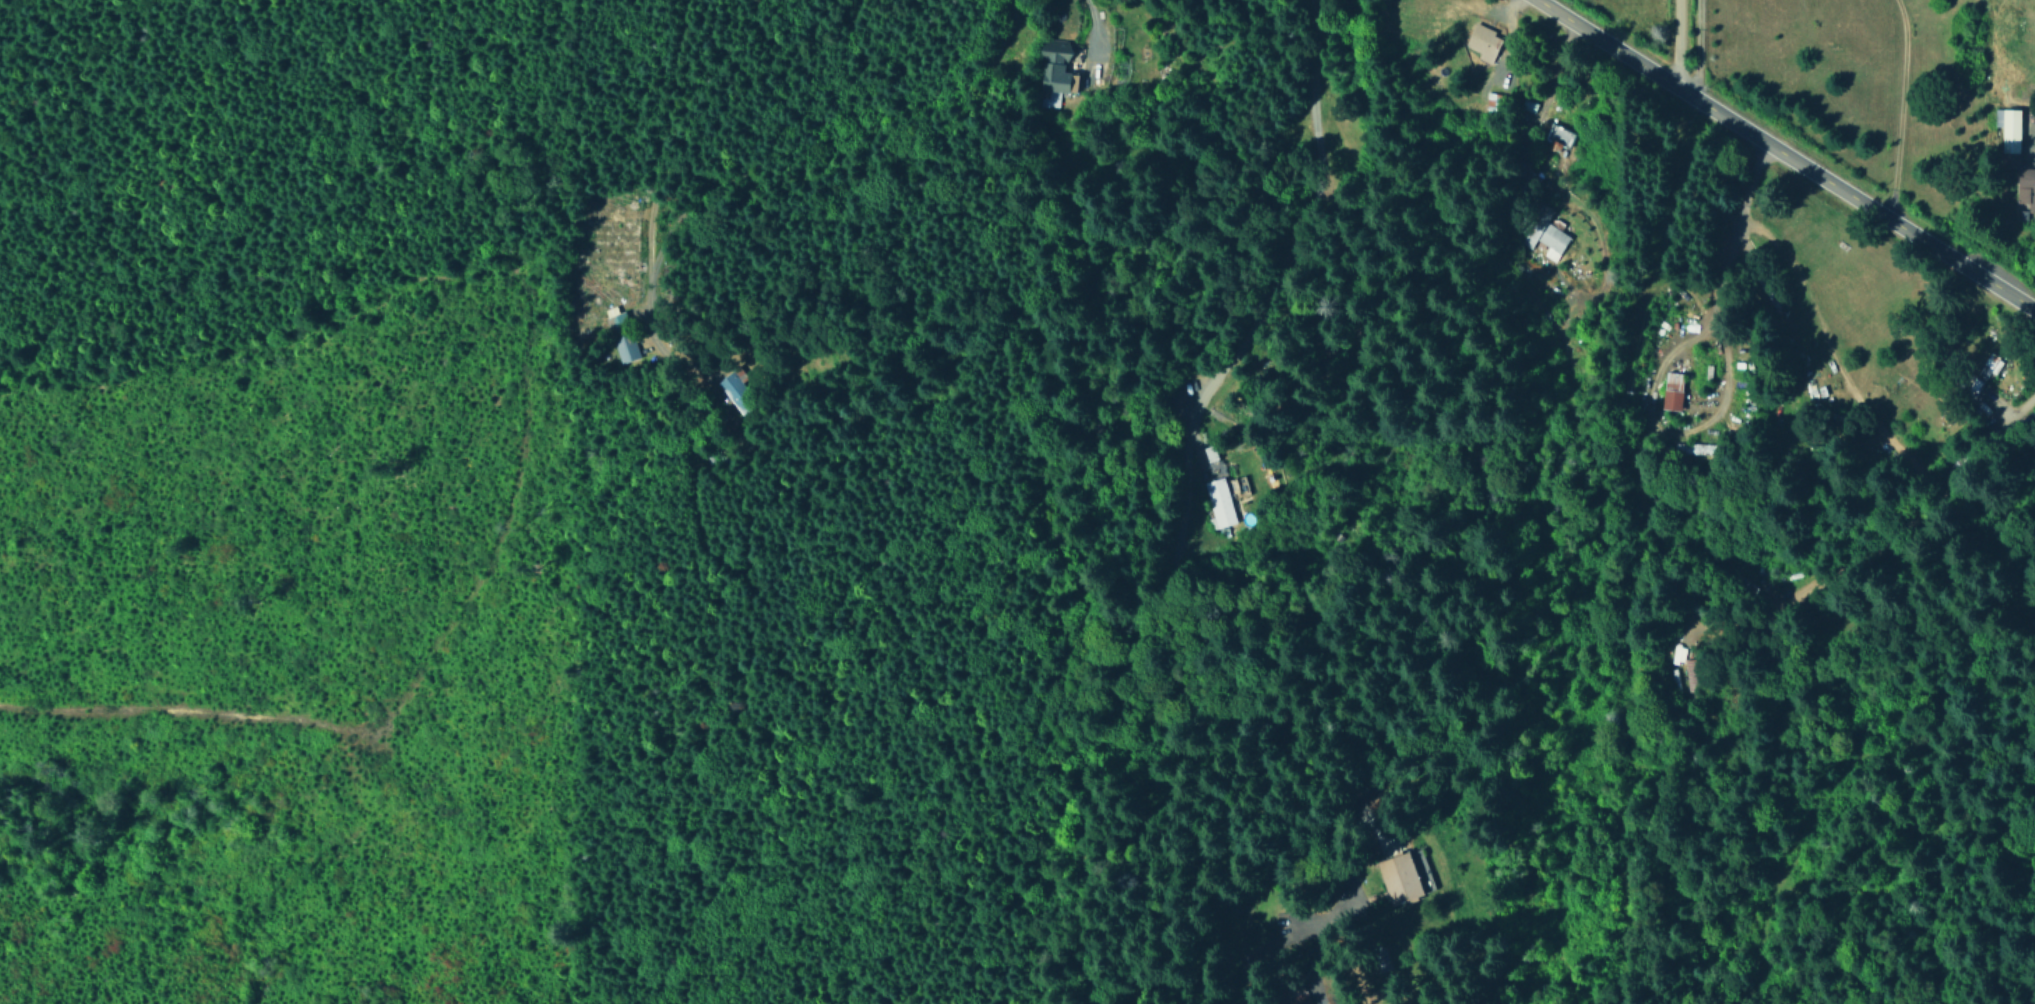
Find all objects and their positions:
road: (1094, 28)
building: (1483, 43)
road: (1675, 43)
building: (1056, 72)
building: (1492, 101)
road: (1897, 109)
road: (655, 123)
building: (2008, 128)
building: (1558, 136)
road: (1783, 155)
road: (578, 180)
building: (2025, 187)
building: (1534, 229)
building: (1552, 241)
building: (625, 349)
building: (1672, 390)
building: (1218, 503)
road: (1158, 511)
building: (1677, 654)
building: (1421, 870)
building: (1397, 872)

